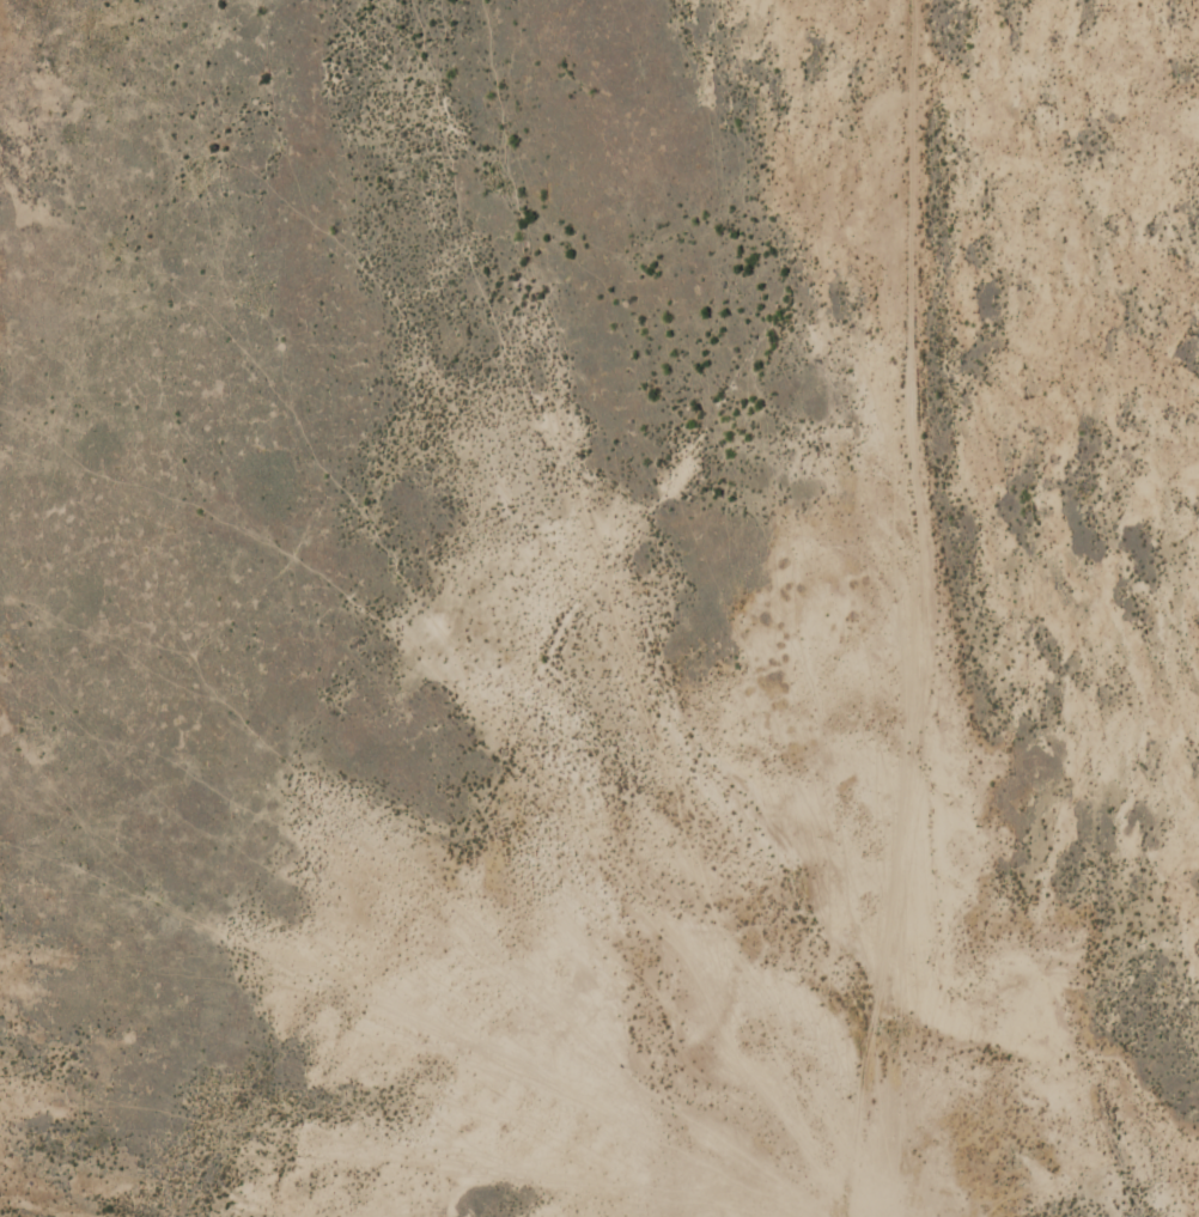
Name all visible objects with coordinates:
road: (906, 611)

